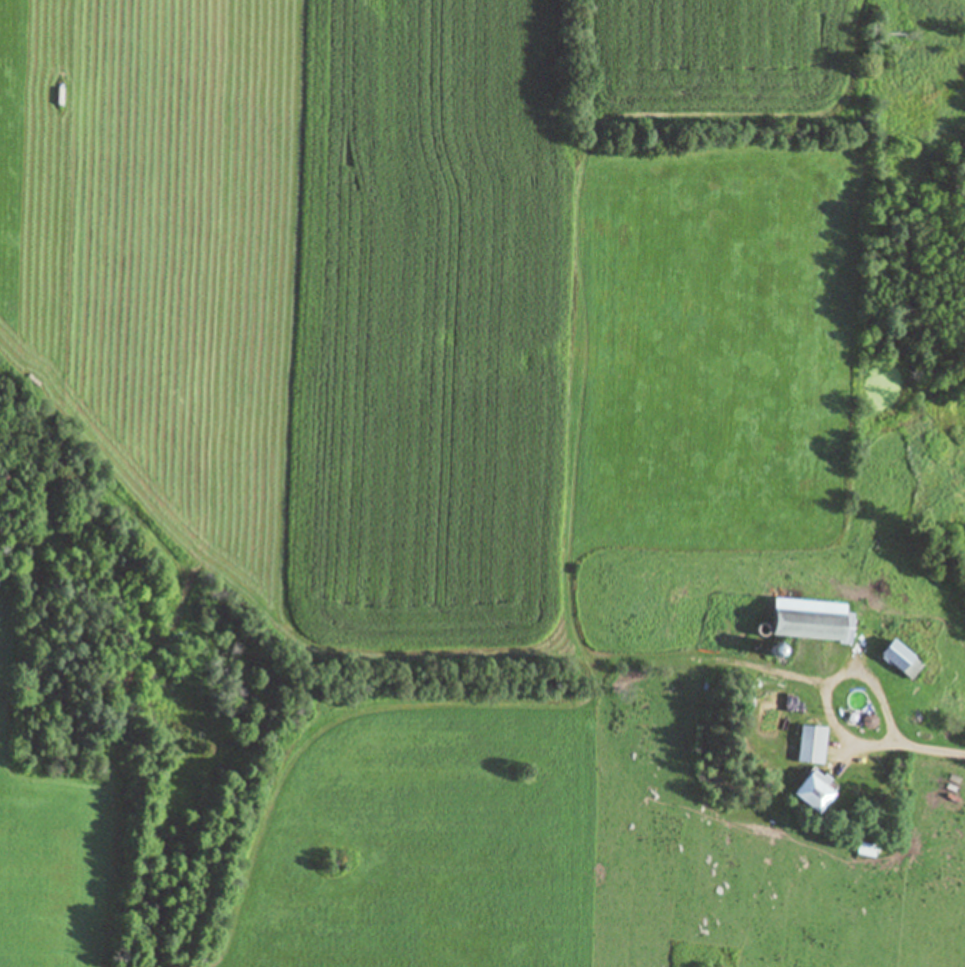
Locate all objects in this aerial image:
building: (803, 622)
building: (808, 746)
building: (808, 793)
building: (863, 849)

